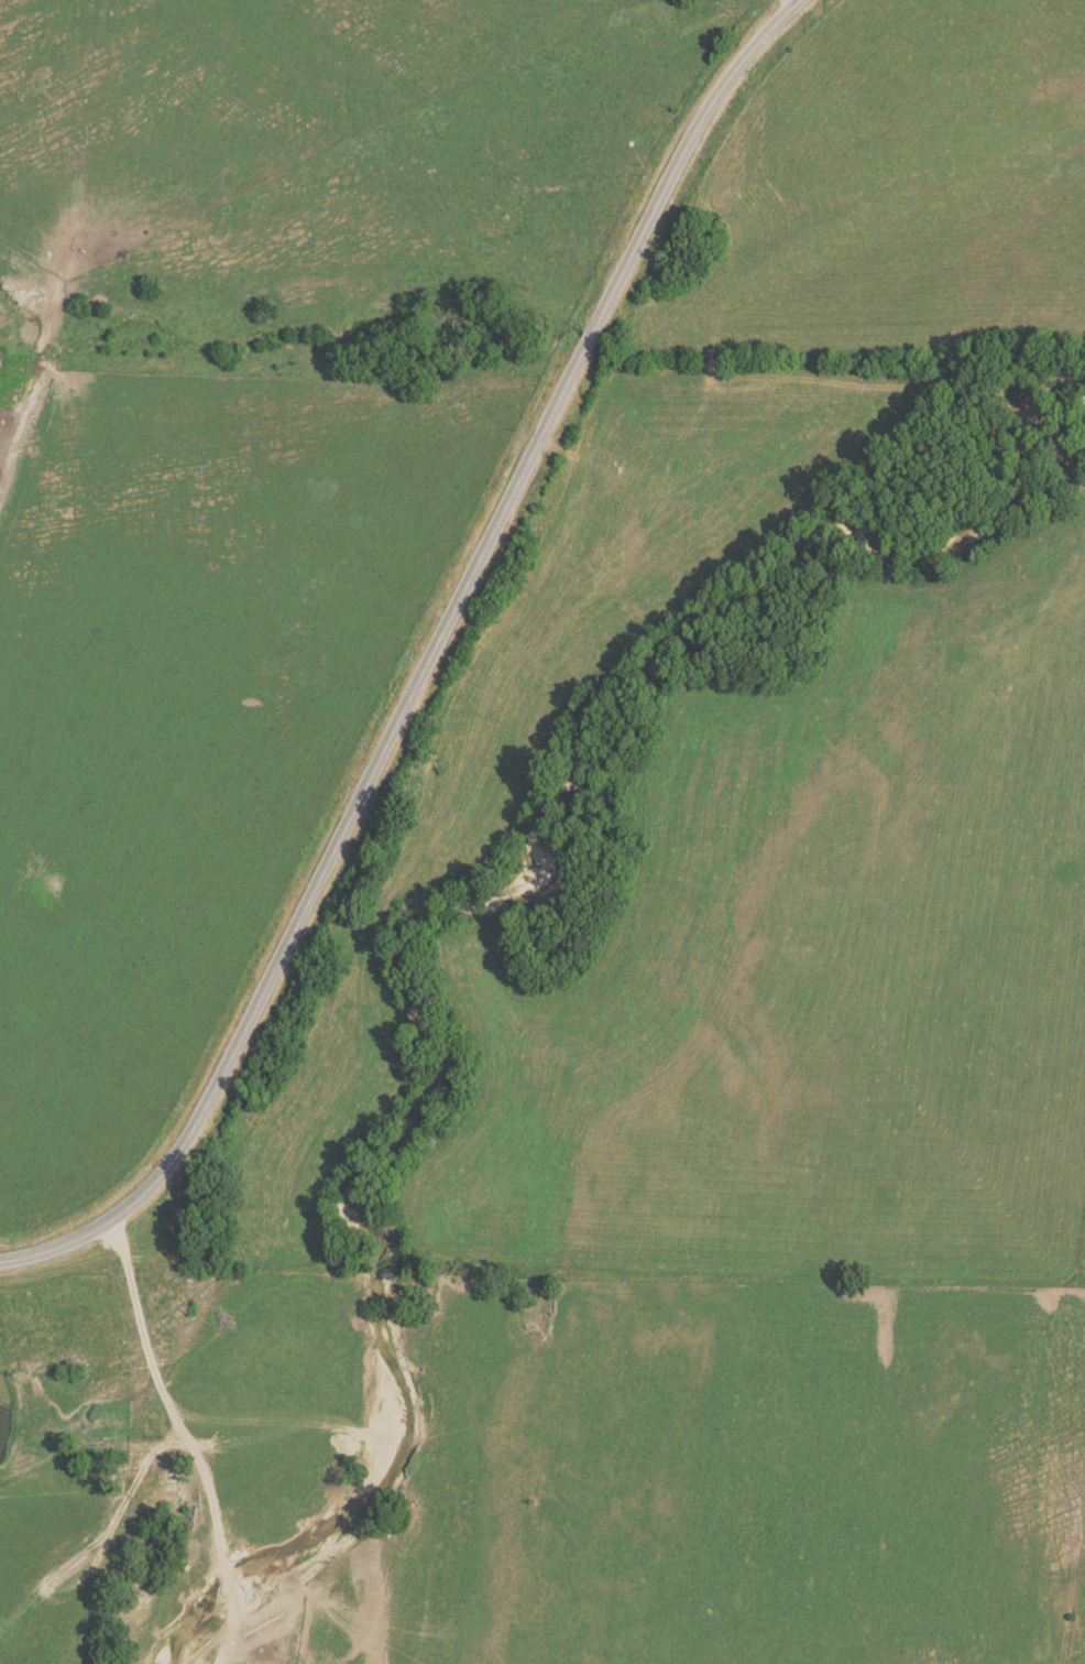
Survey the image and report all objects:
road: (430, 666)
road: (188, 1439)

